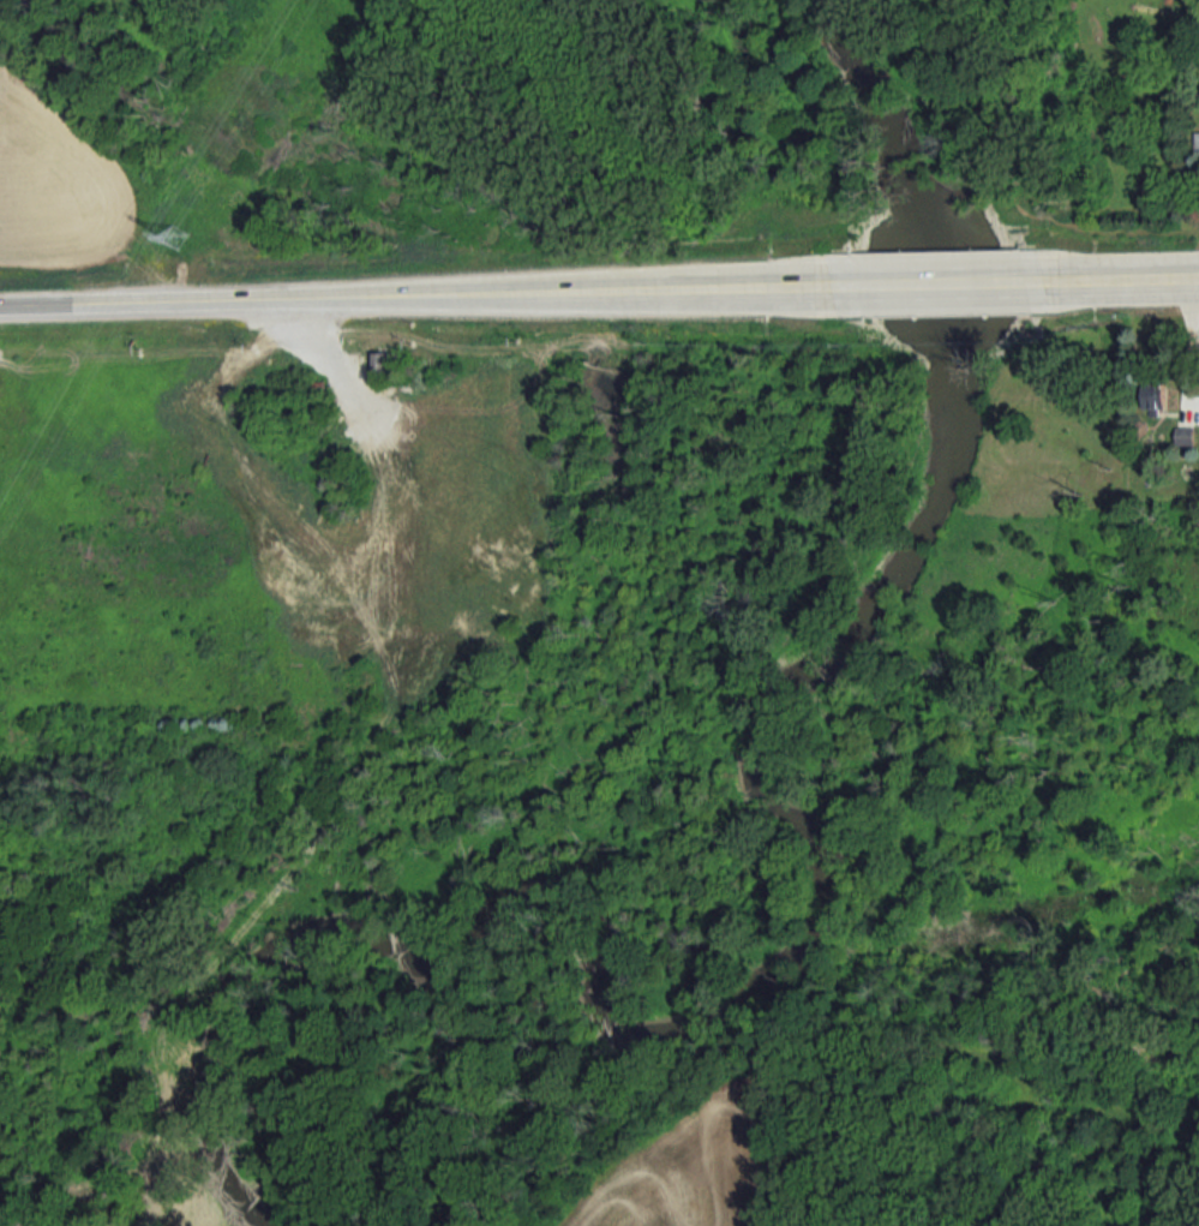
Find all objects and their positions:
crop: (54, 181)
building: (174, 238)
power tower: (182, 241)
road: (1128, 279)
road: (919, 283)
road: (558, 292)
road: (167, 300)
building: (386, 366)
building: (1156, 394)
building: (1186, 439)
river: (807, 938)

